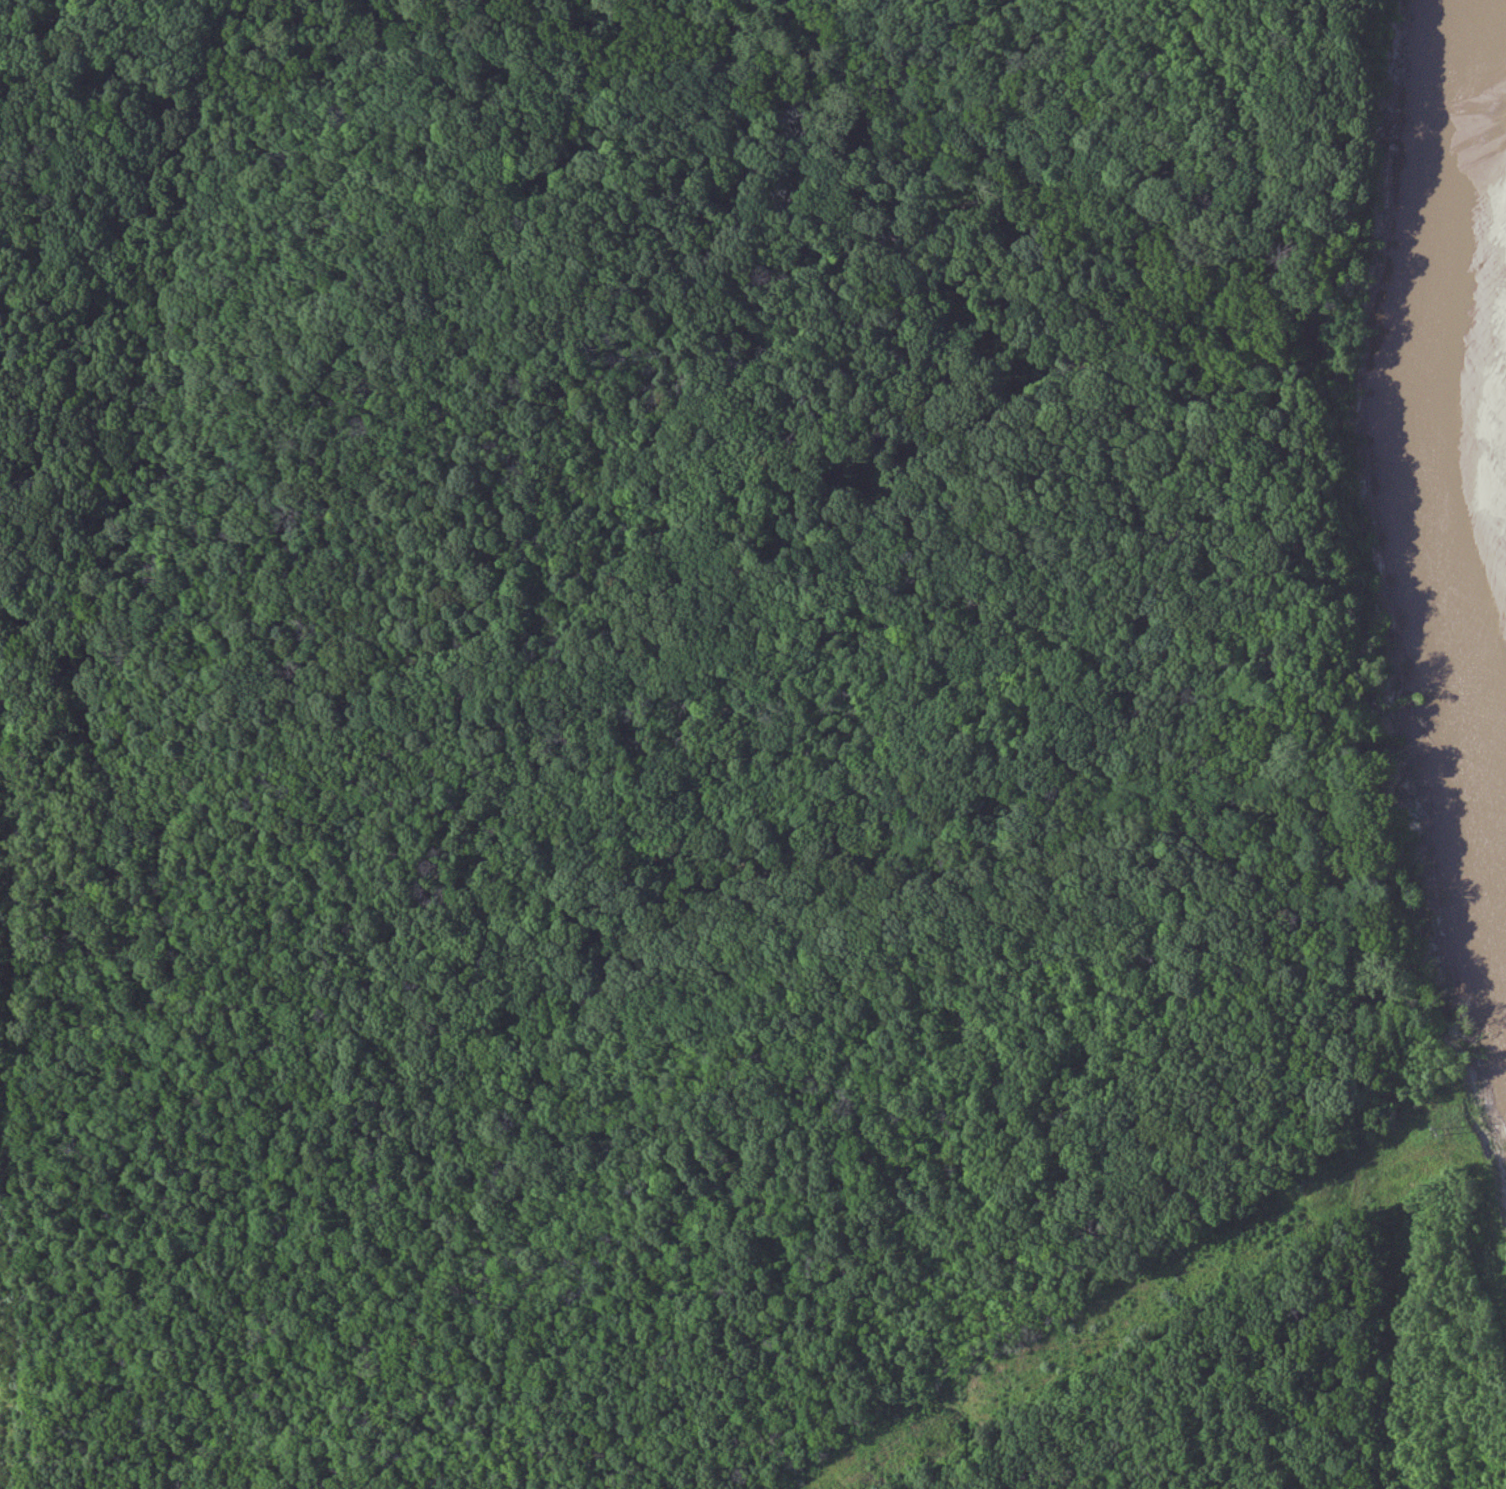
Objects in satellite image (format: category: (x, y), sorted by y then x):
river: (1370, 528)
park: (712, 757)
road: (16, 1105)
power tower: (1439, 1128)
power tower: (1093, 1341)

